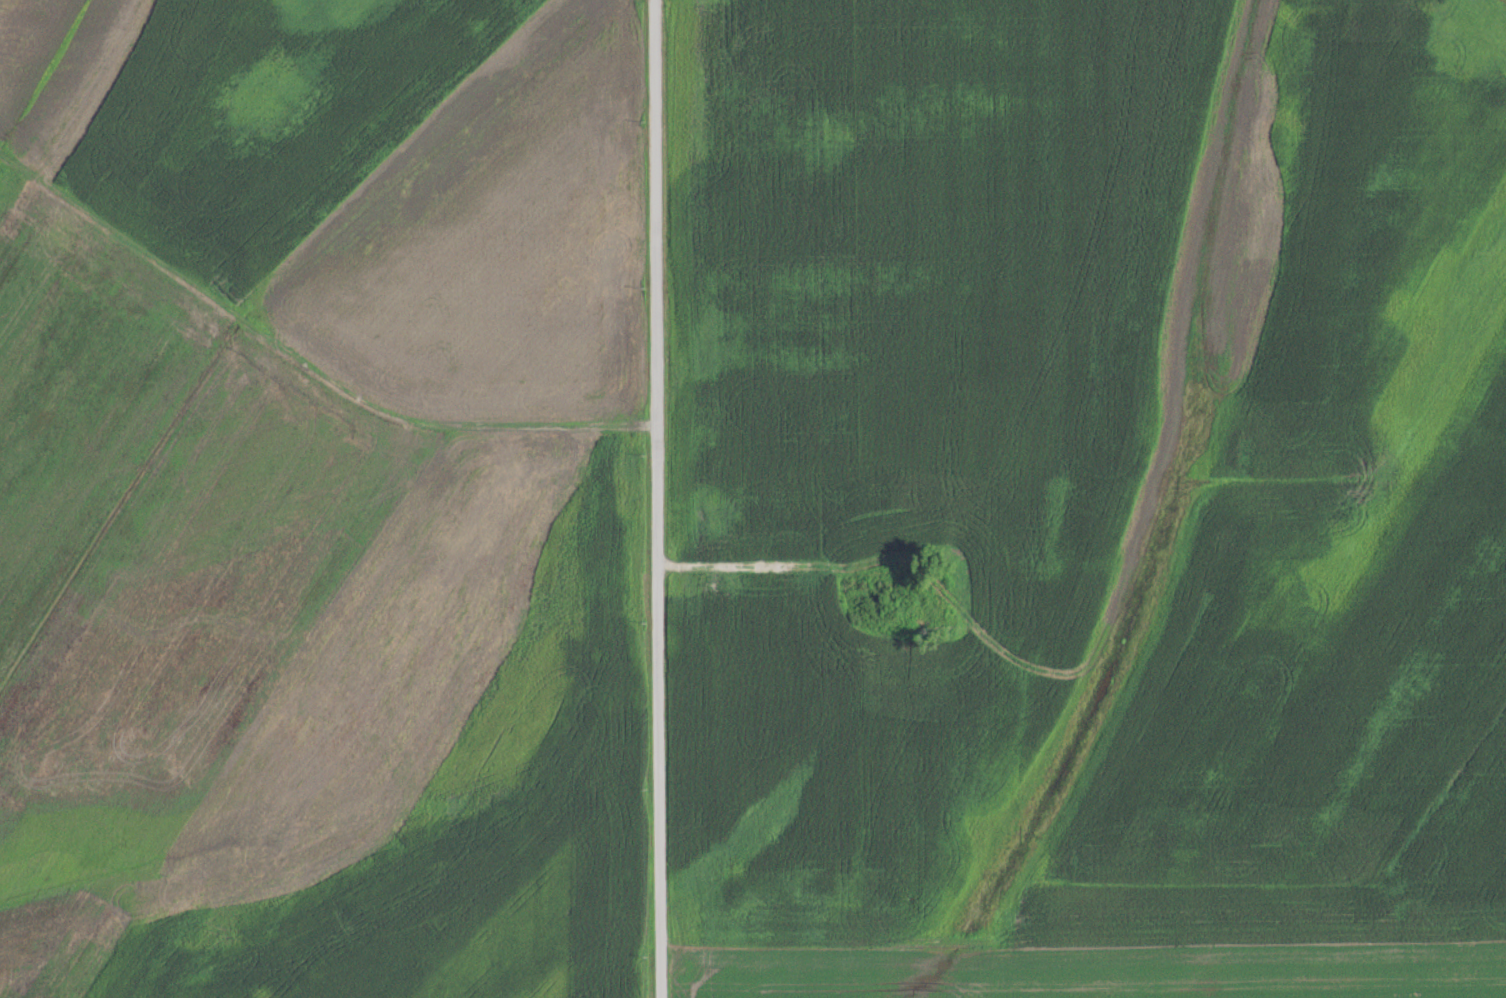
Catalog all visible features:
road: (656, 499)

